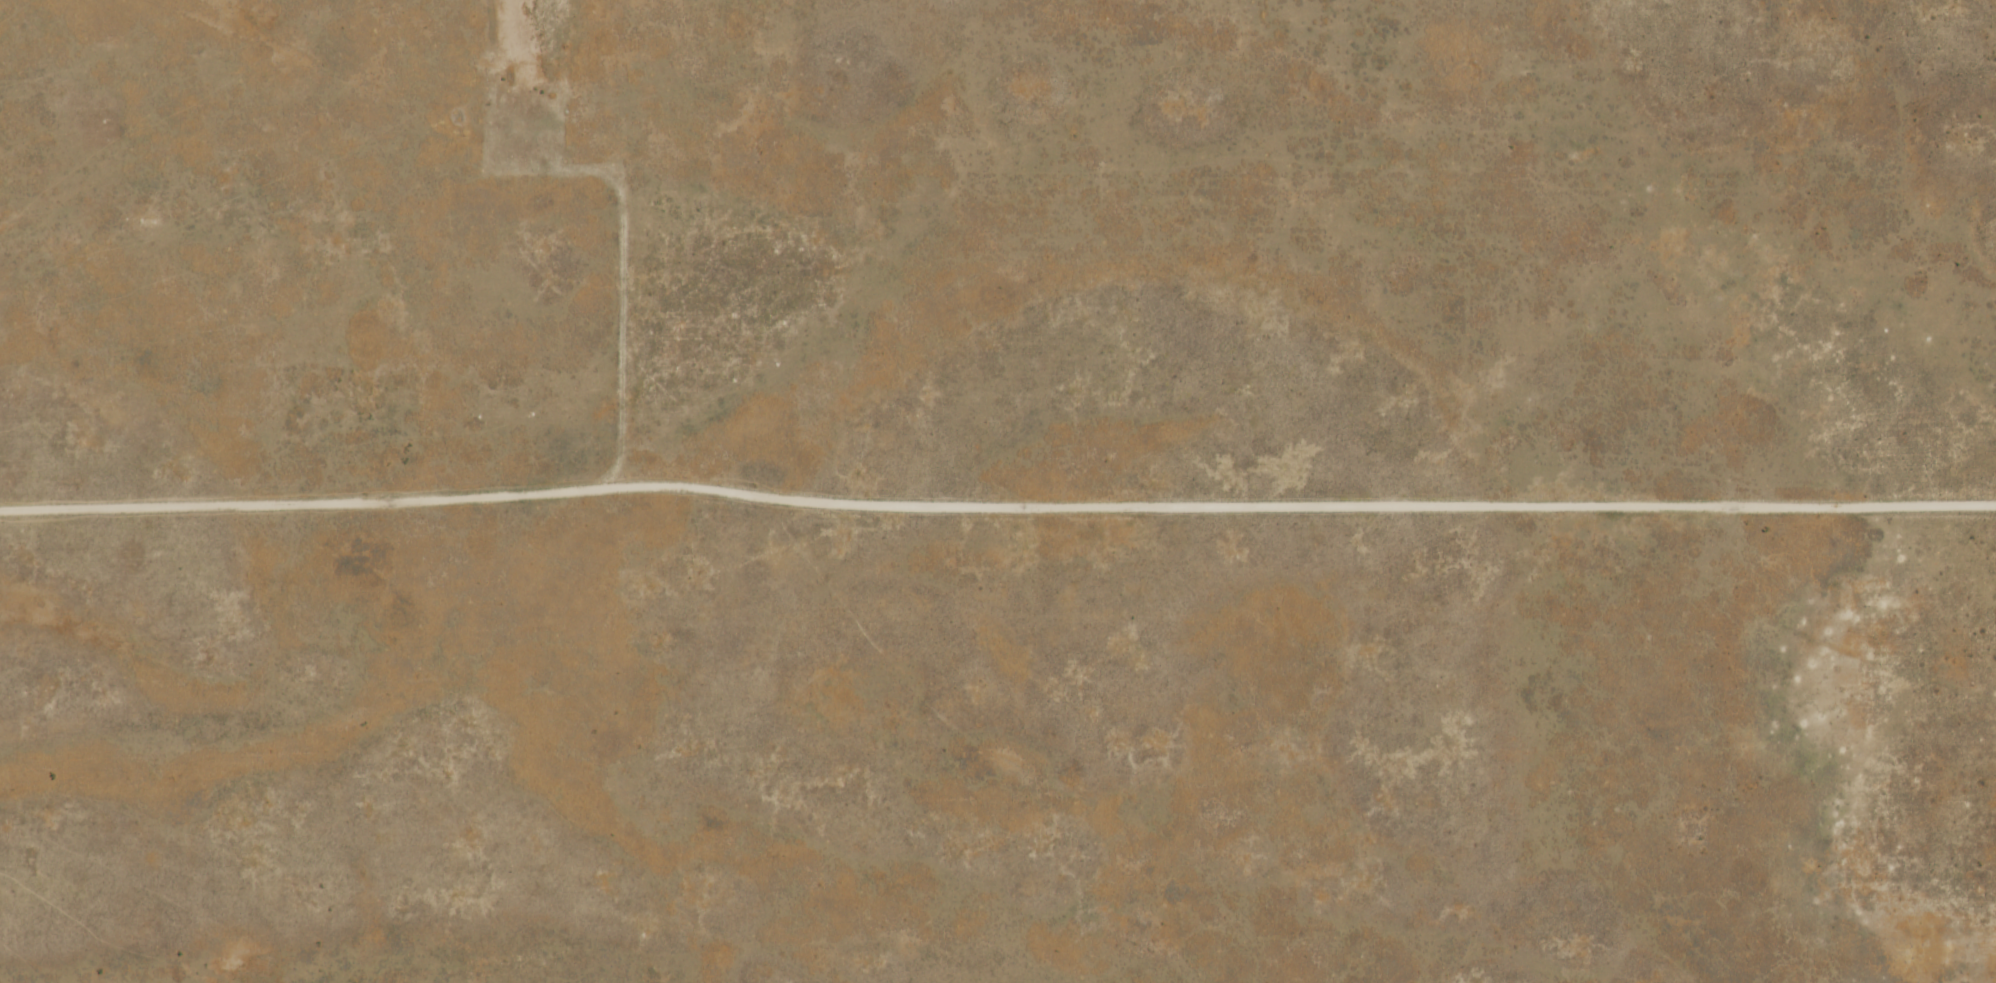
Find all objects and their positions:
road: (997, 539)

